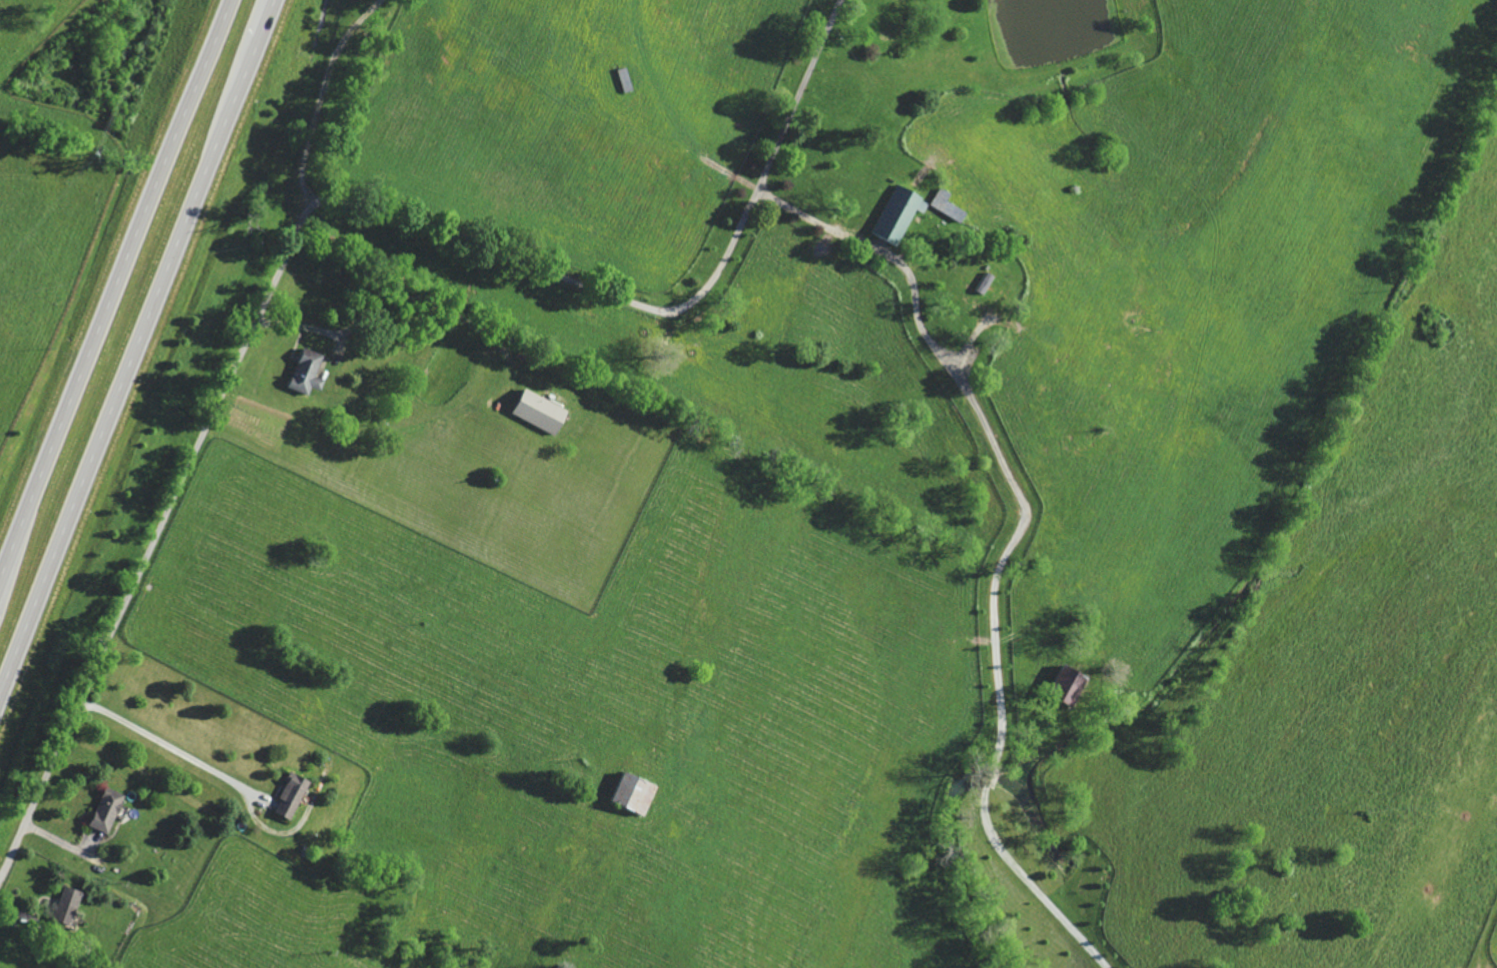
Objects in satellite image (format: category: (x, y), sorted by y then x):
road: (324, 95)
building: (952, 207)
building: (901, 214)
road: (112, 287)
road: (657, 310)
road: (134, 343)
building: (313, 373)
building: (545, 413)
road: (151, 540)
road: (1014, 544)
building: (1077, 685)
road: (164, 747)
building: (638, 793)
building: (296, 797)
building: (111, 811)
building: (73, 908)

